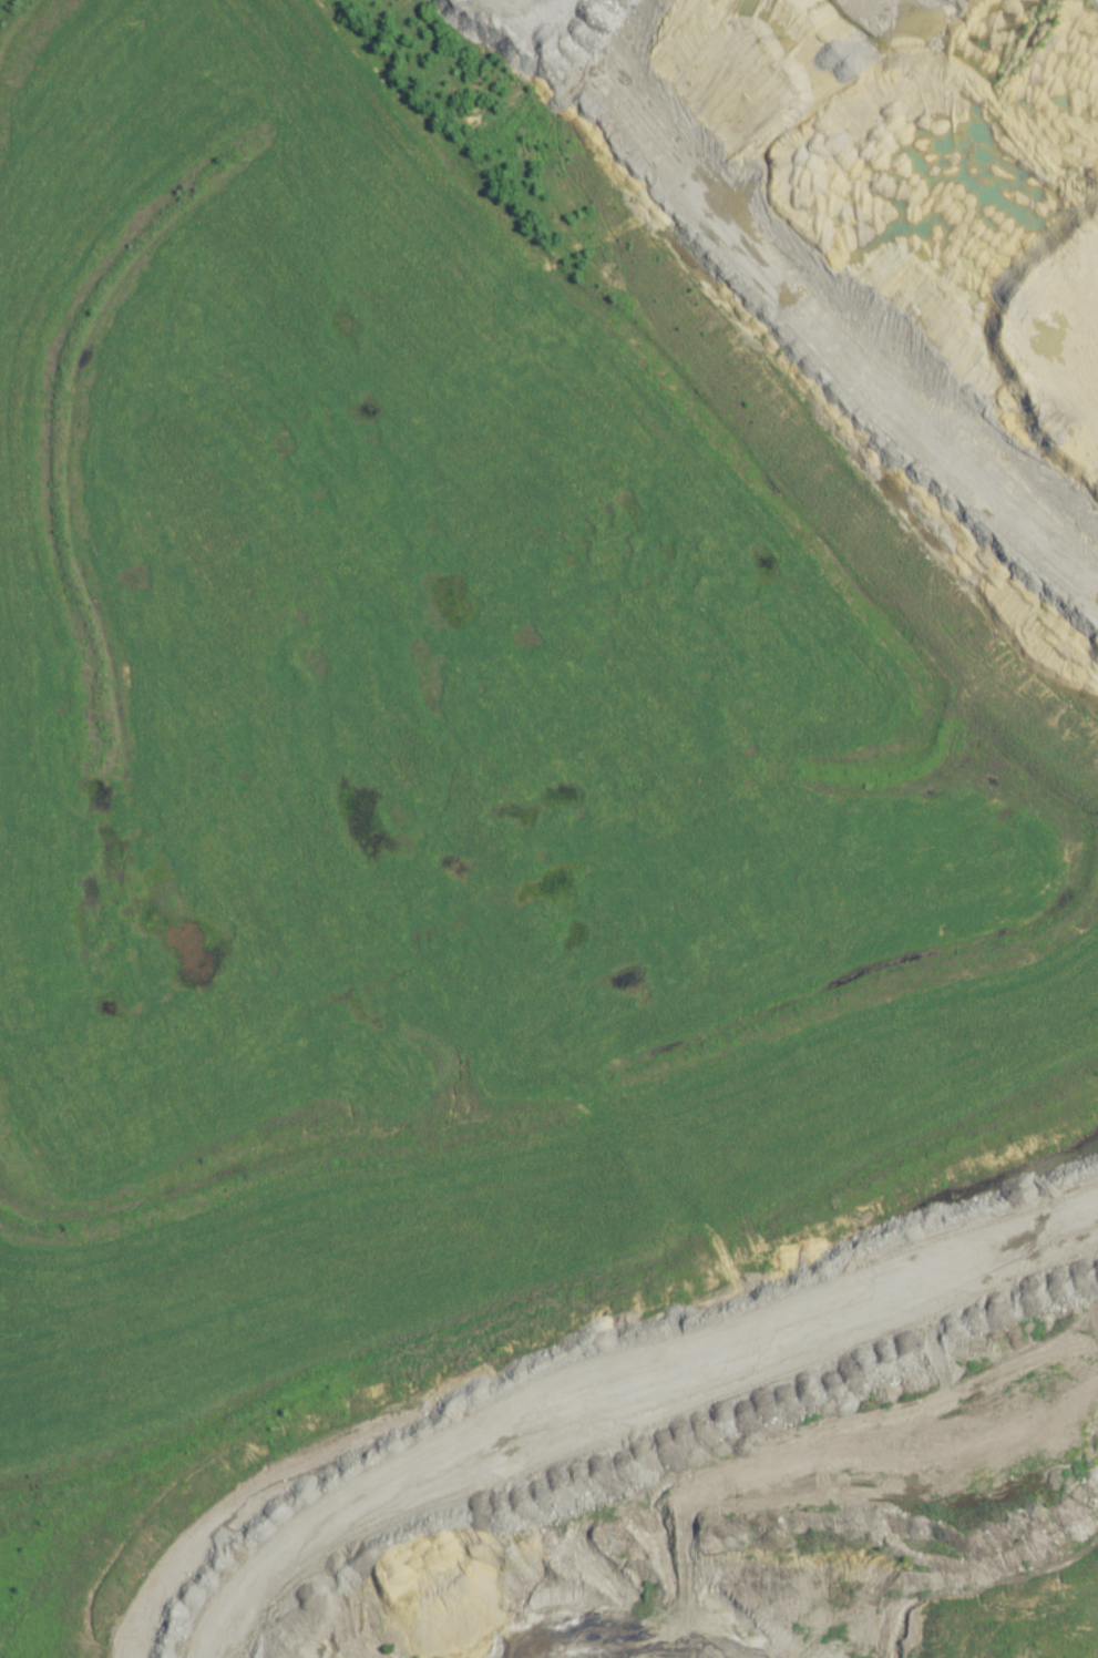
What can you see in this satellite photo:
quarry: (524, 1228)
building: (765, 1548)

